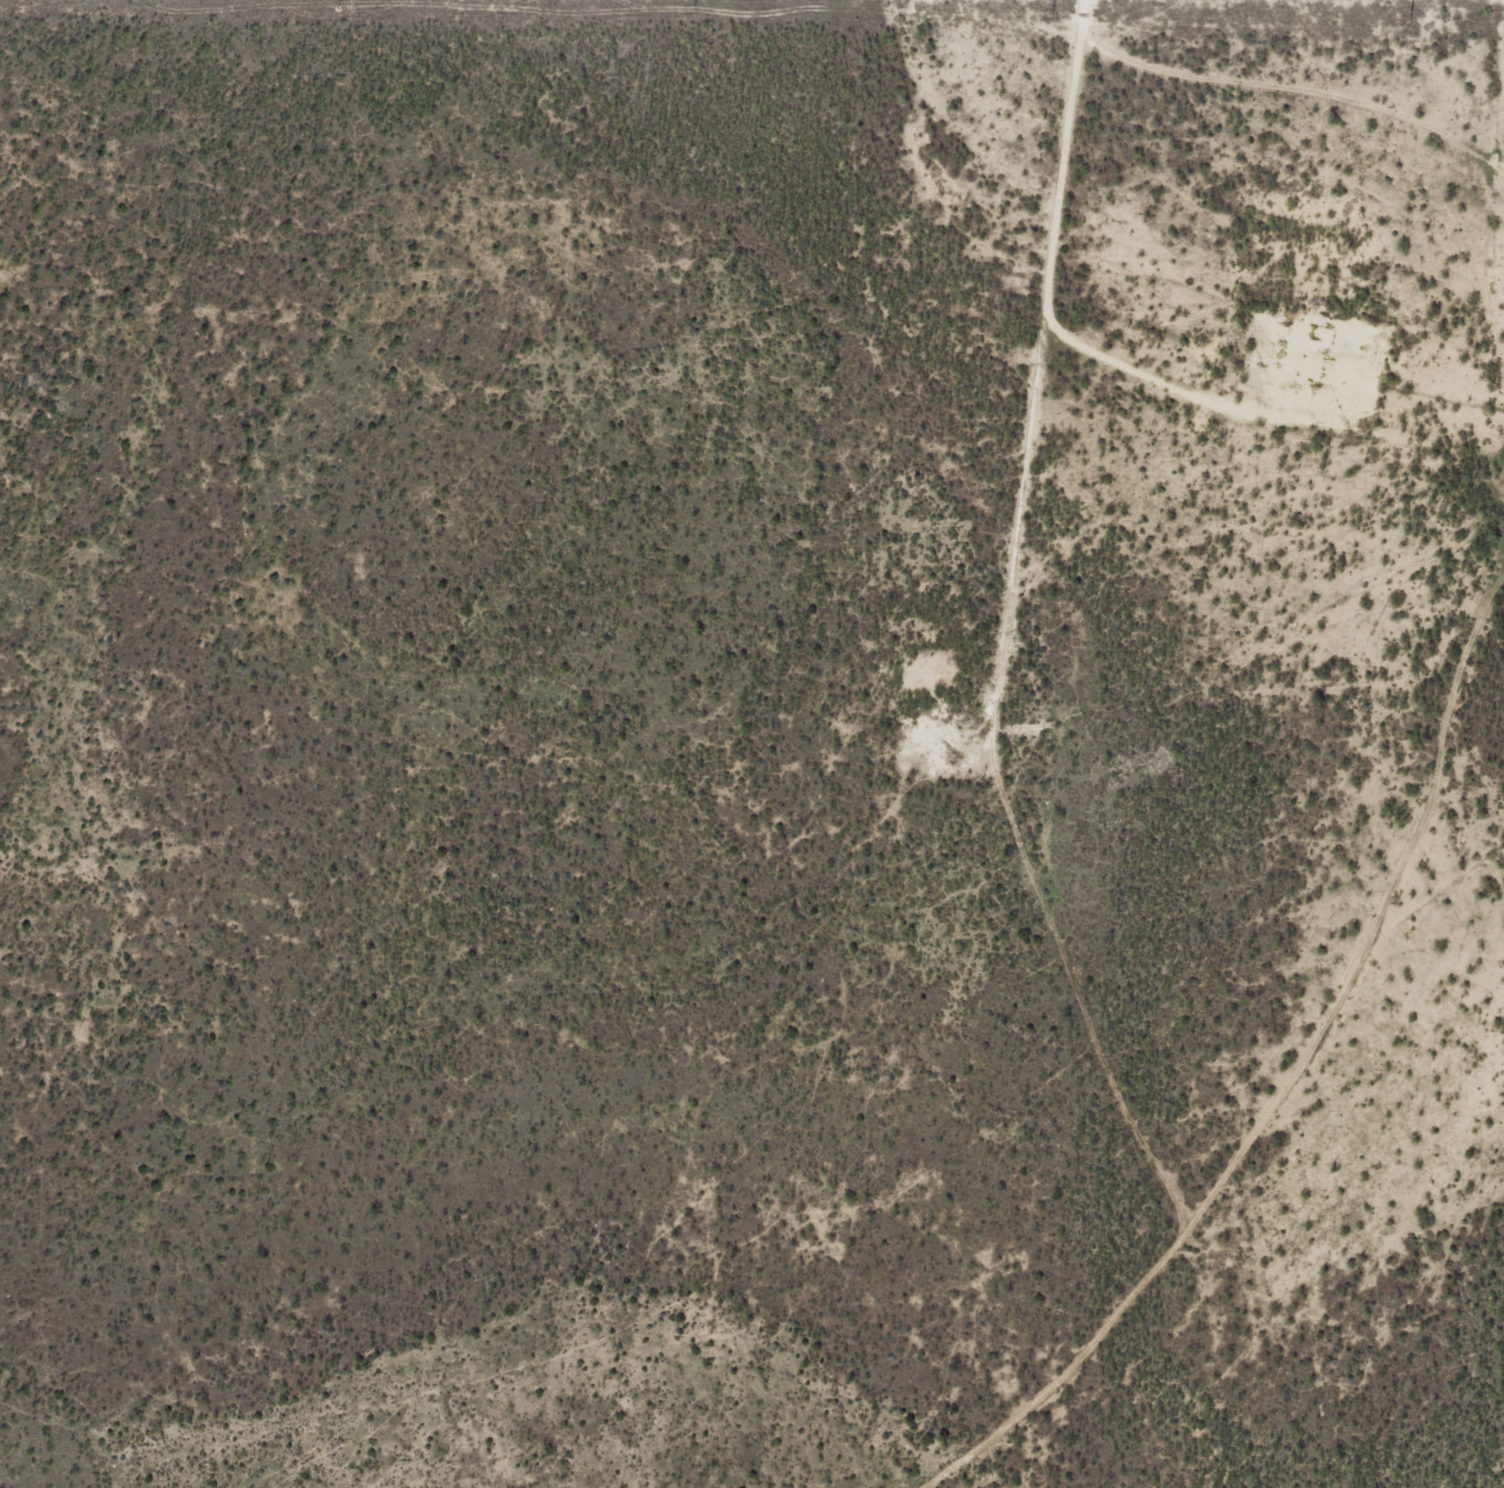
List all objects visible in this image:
power tower: (335, 4)
power tower: (693, 9)
power tower: (1051, 14)
power tower: (1408, 20)
road: (1316, 1066)
road: (1401, 1115)

